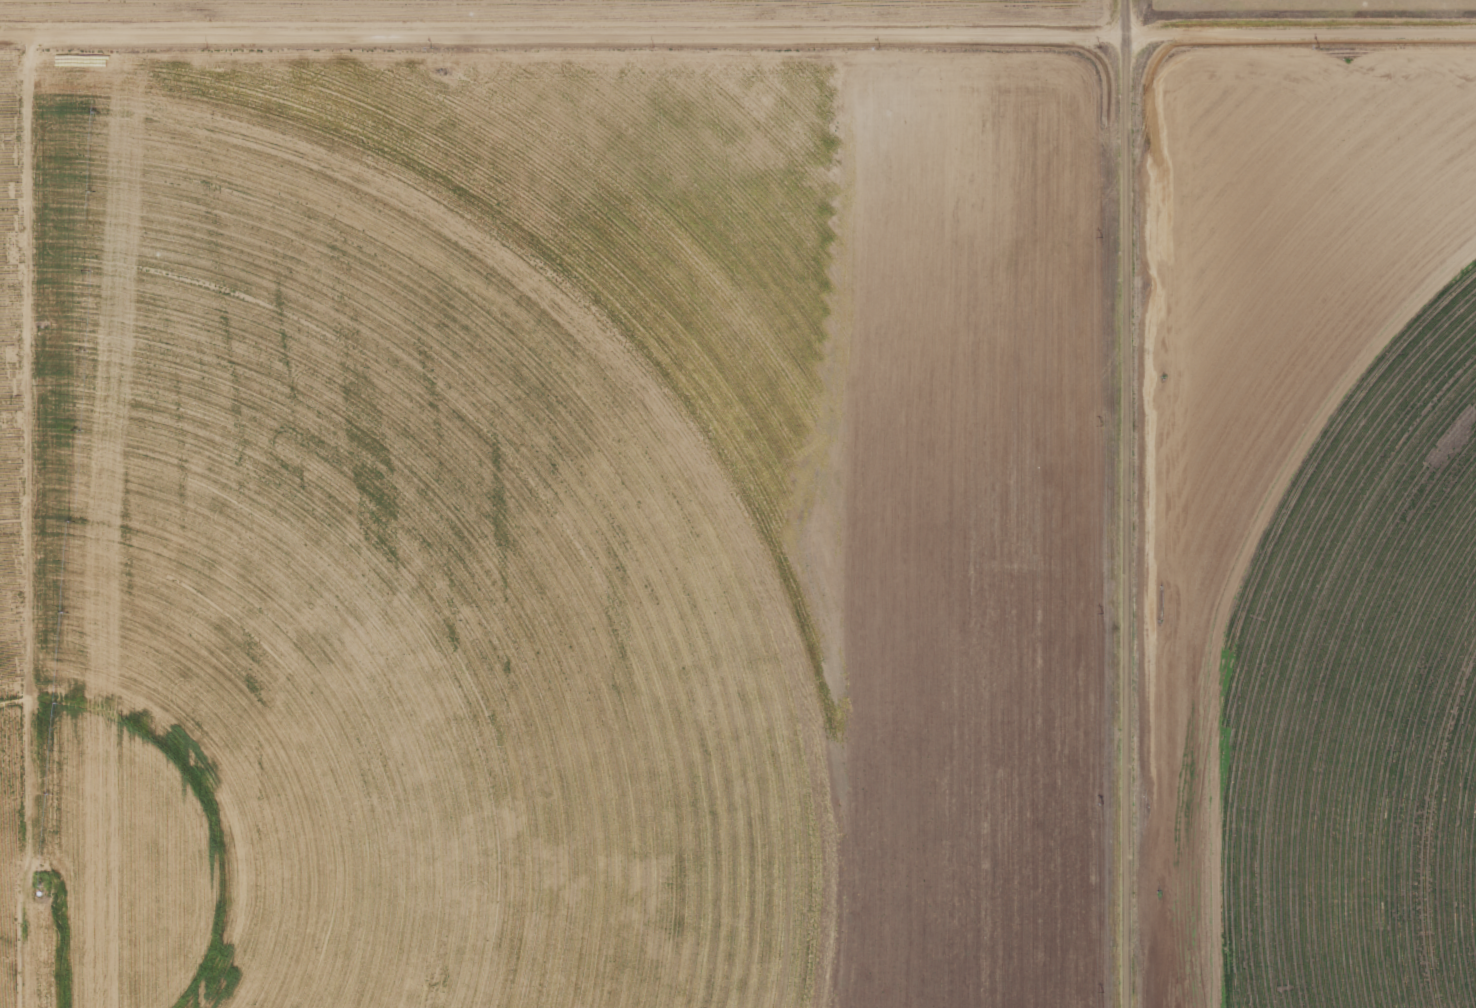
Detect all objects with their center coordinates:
road: (737, 35)
road: (1125, 504)

